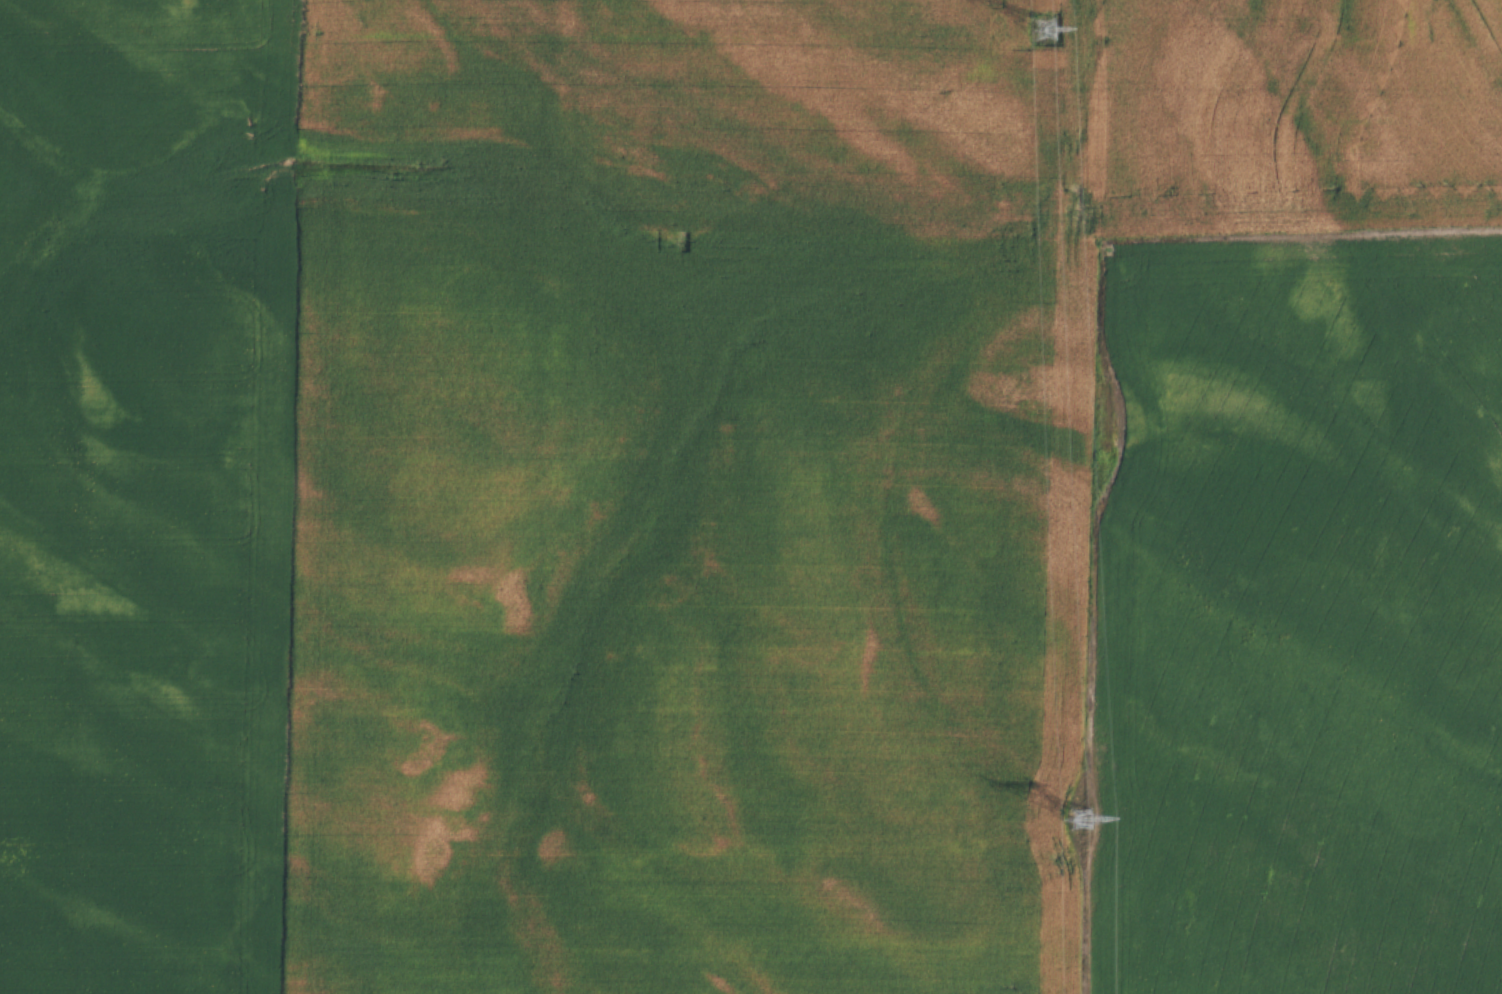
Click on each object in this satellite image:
power tower: (1048, 22)
power tower: (1090, 838)

